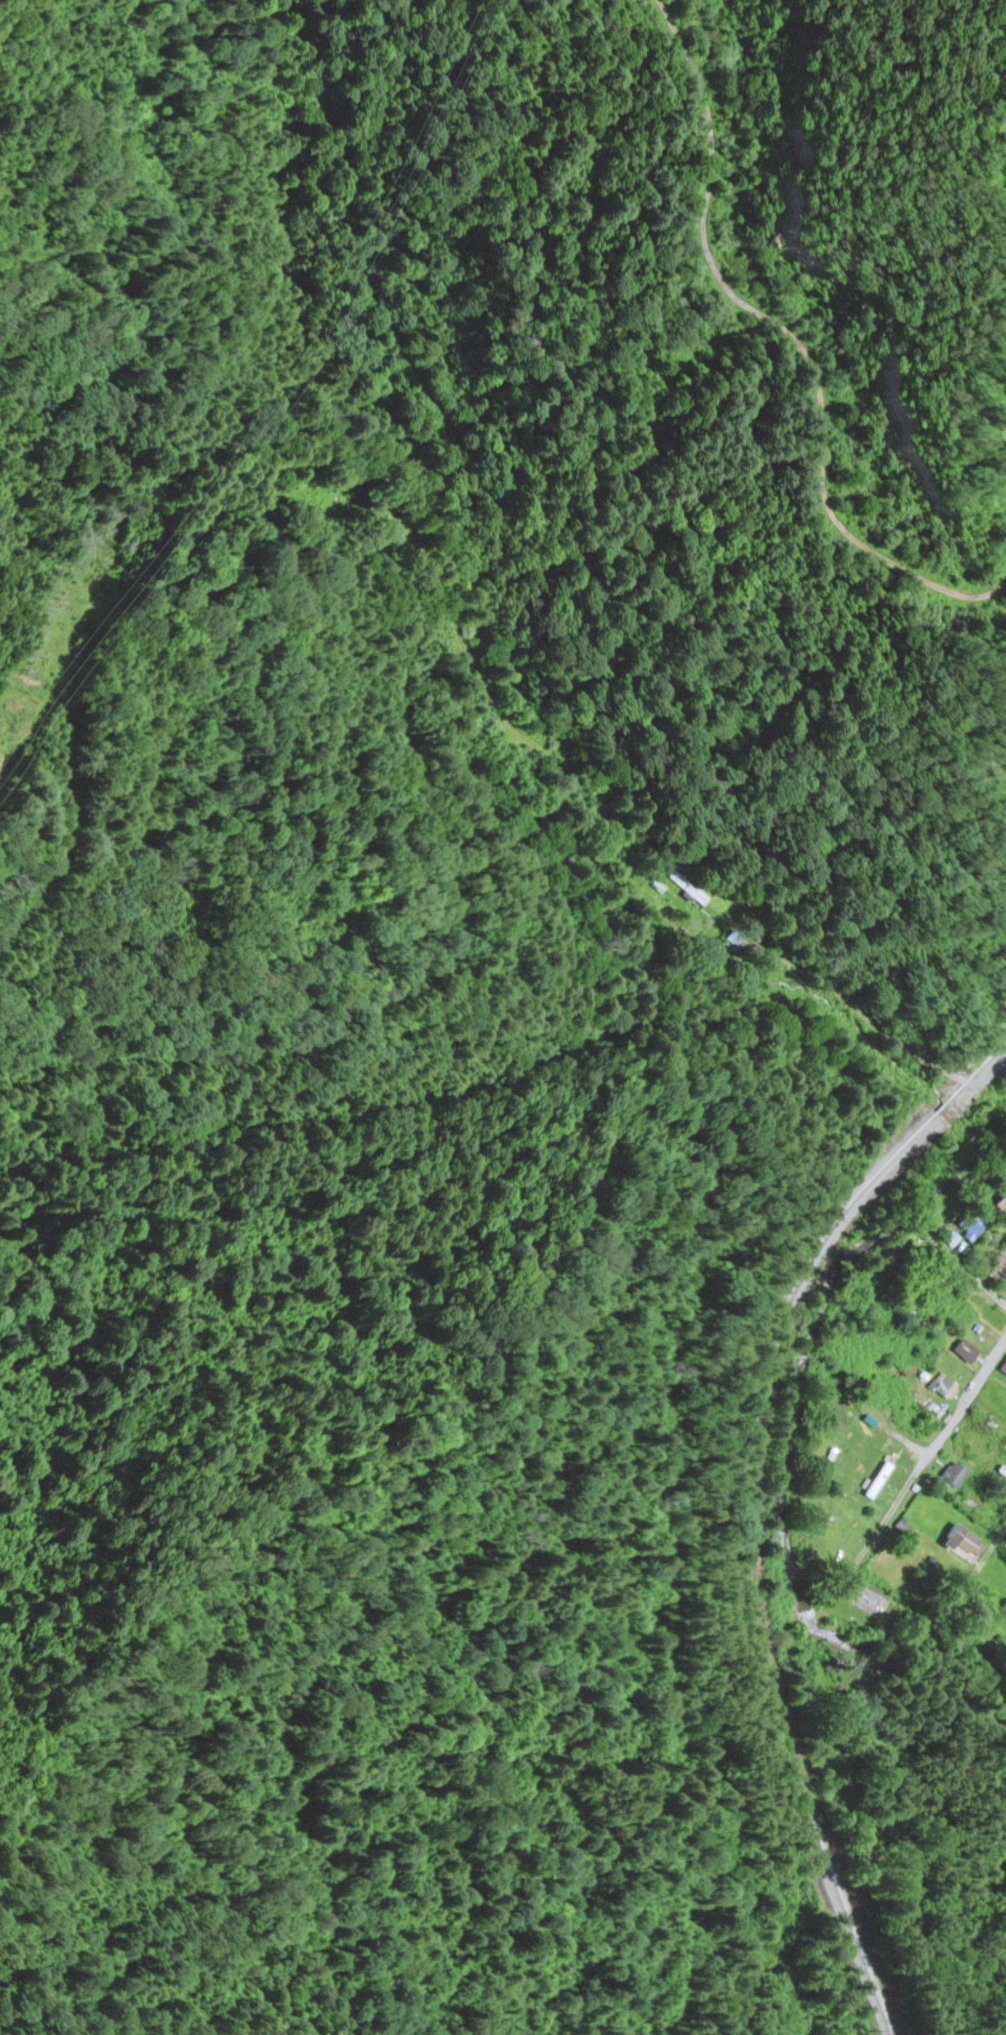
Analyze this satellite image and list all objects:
building: (688, 890)
road: (681, 939)
road: (992, 1075)
building: (1003, 1208)
building: (972, 1226)
road: (994, 1296)
building: (966, 1353)
building: (1003, 1369)
building: (945, 1388)
road: (945, 1428)
building: (981, 1447)
building: (955, 1475)
railway: (746, 1506)
building: (845, 1525)
building: (964, 1544)

